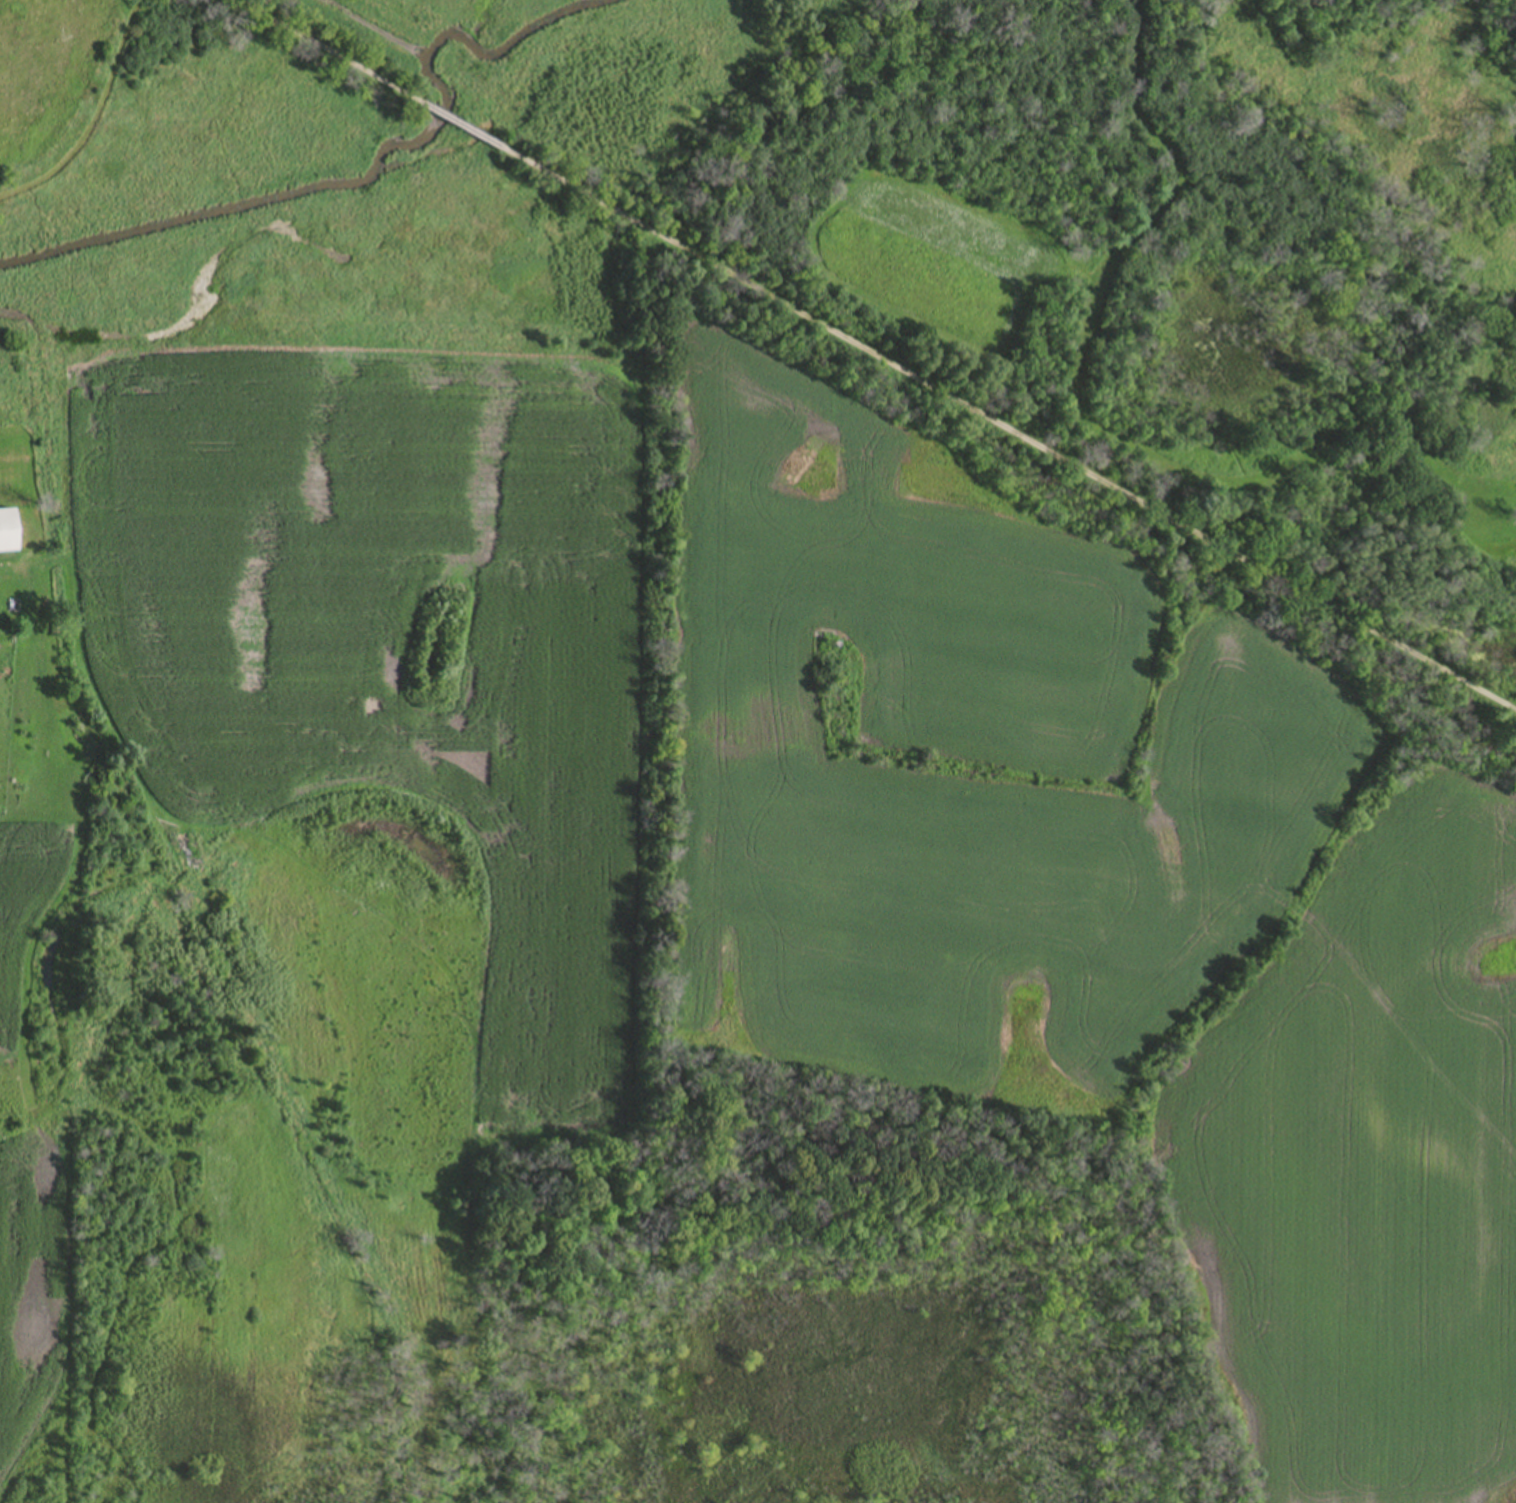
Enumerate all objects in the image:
road: (327, 52)
road: (460, 127)
road: (1007, 431)
building: (6, 534)

